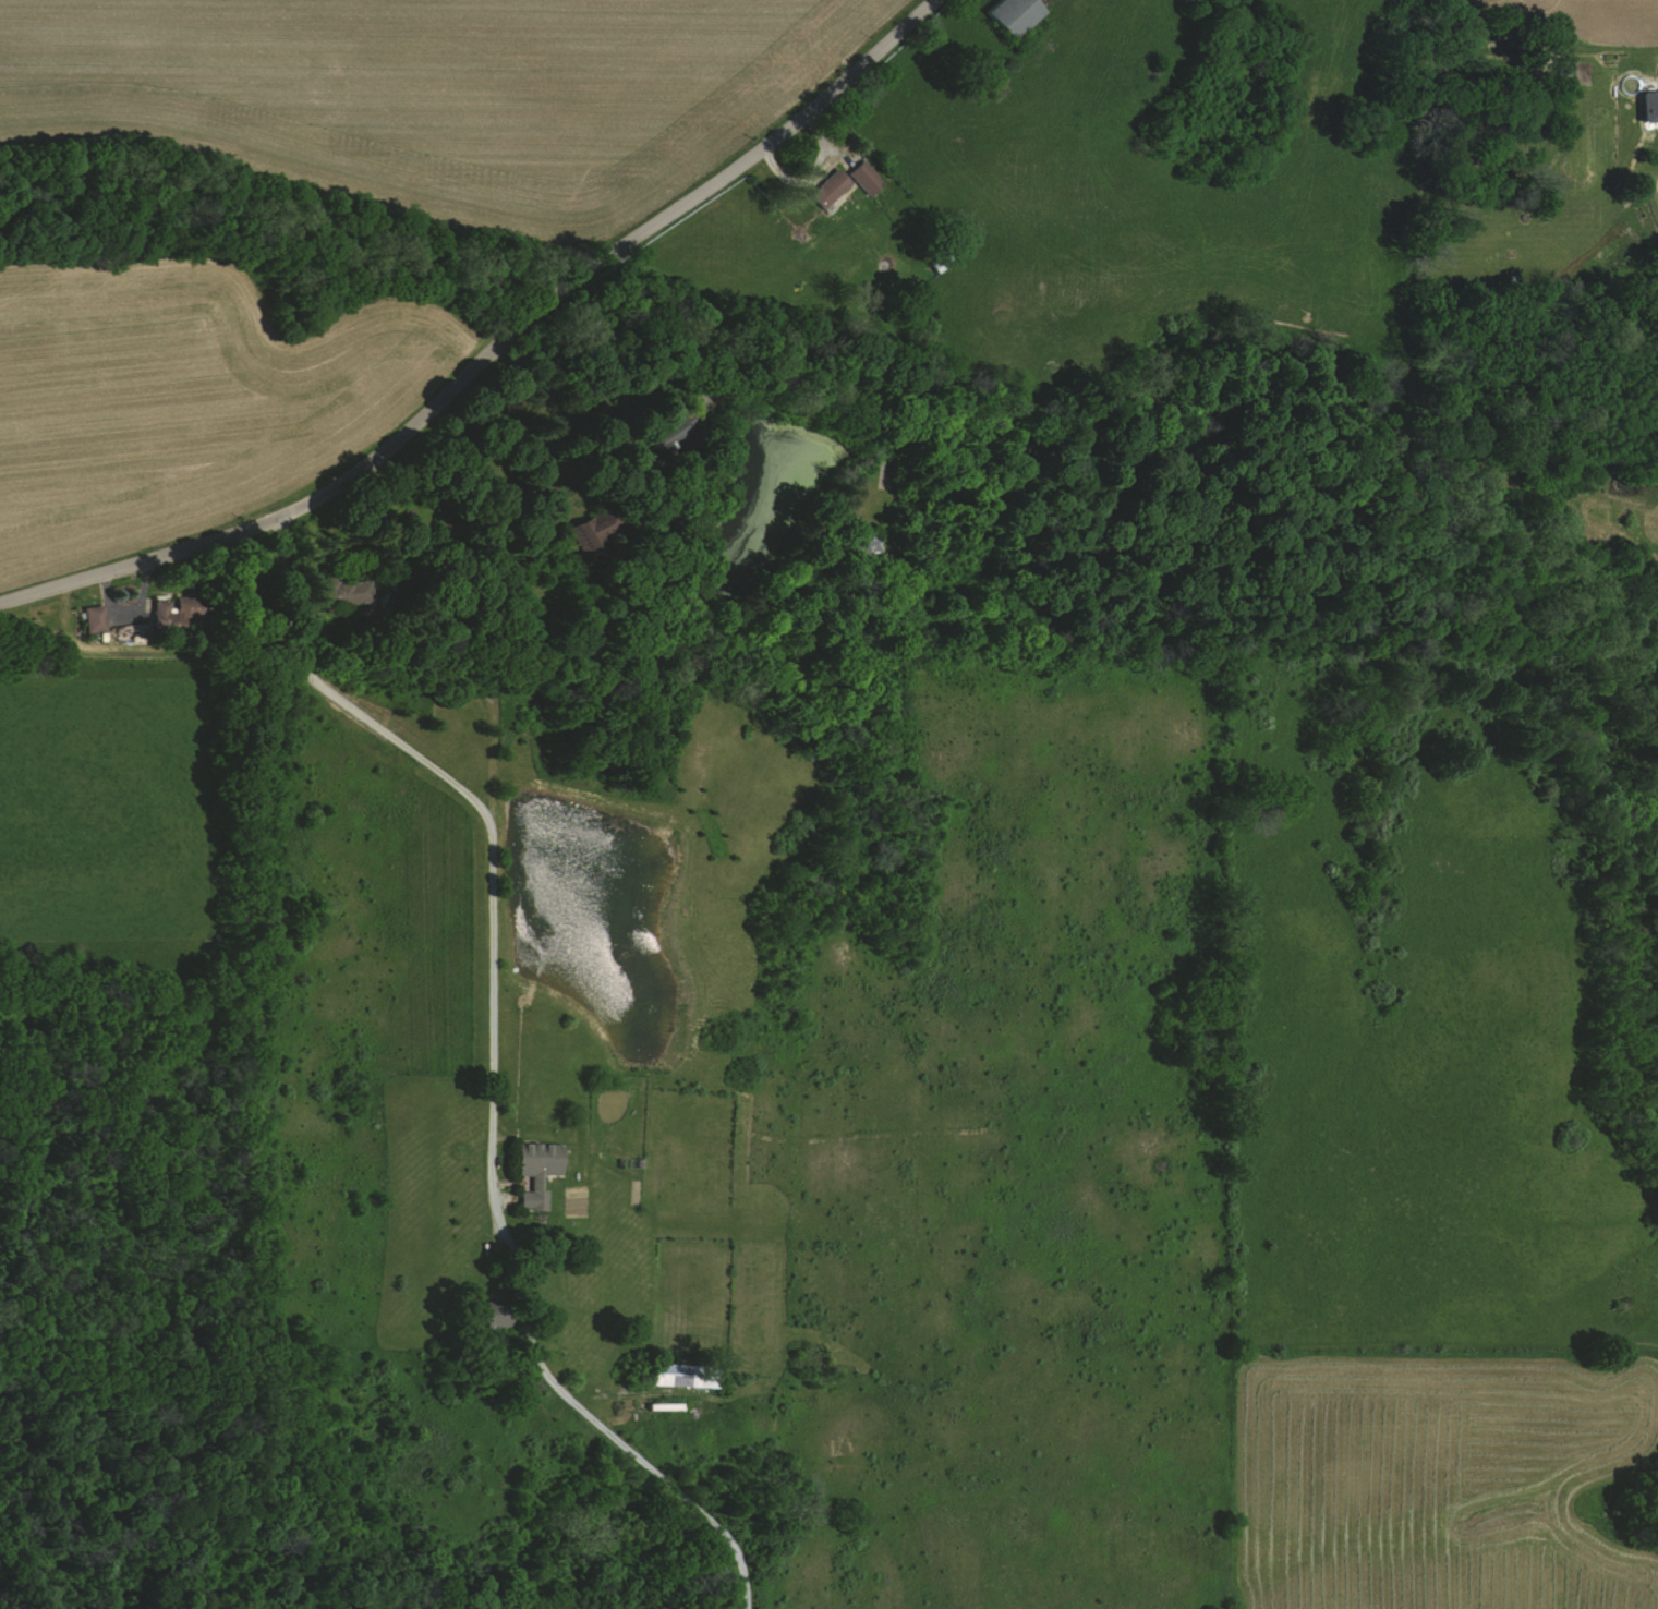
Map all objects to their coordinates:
building: (1015, 16)
building: (1646, 104)
building: (866, 178)
building: (833, 187)
road: (489, 348)
road: (282, 588)
building: (165, 614)
building: (98, 619)
road: (492, 1136)
building: (543, 1172)
building: (501, 1315)
building: (689, 1376)

